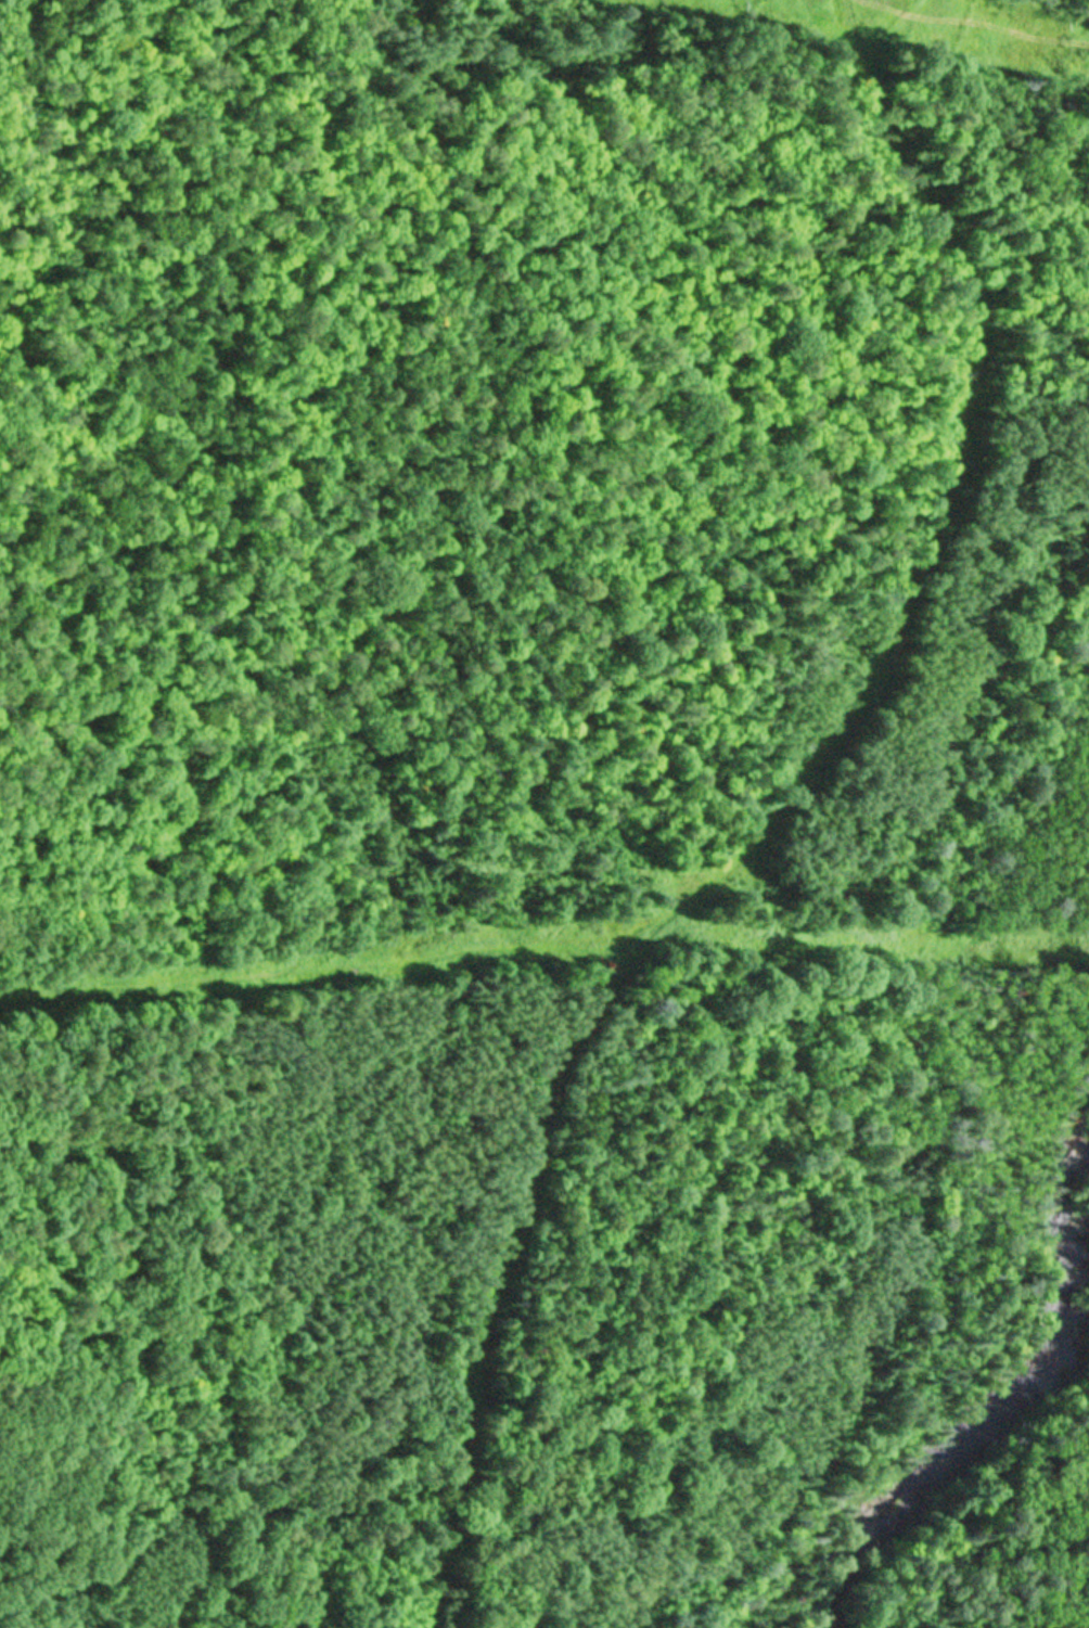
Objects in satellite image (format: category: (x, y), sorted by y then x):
ski resort: (507, 55)
river: (988, 1367)

